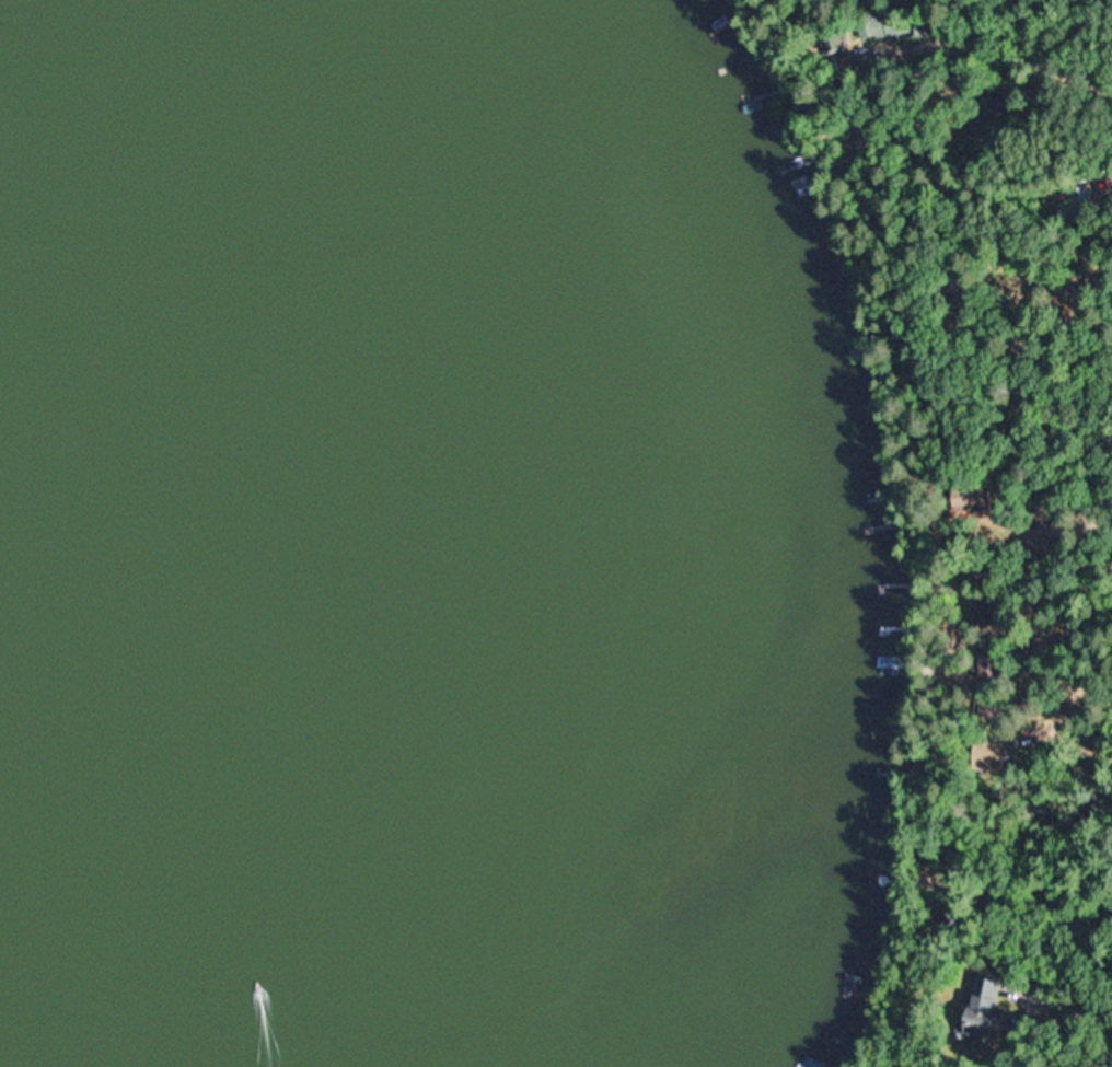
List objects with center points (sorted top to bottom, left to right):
road: (1004, 38)
building: (1081, 201)
road: (1039, 443)
building: (972, 498)
building: (981, 615)
road: (1092, 622)
road: (933, 715)
building: (1080, 745)
building: (992, 756)
road: (1065, 1001)
building: (981, 1007)

